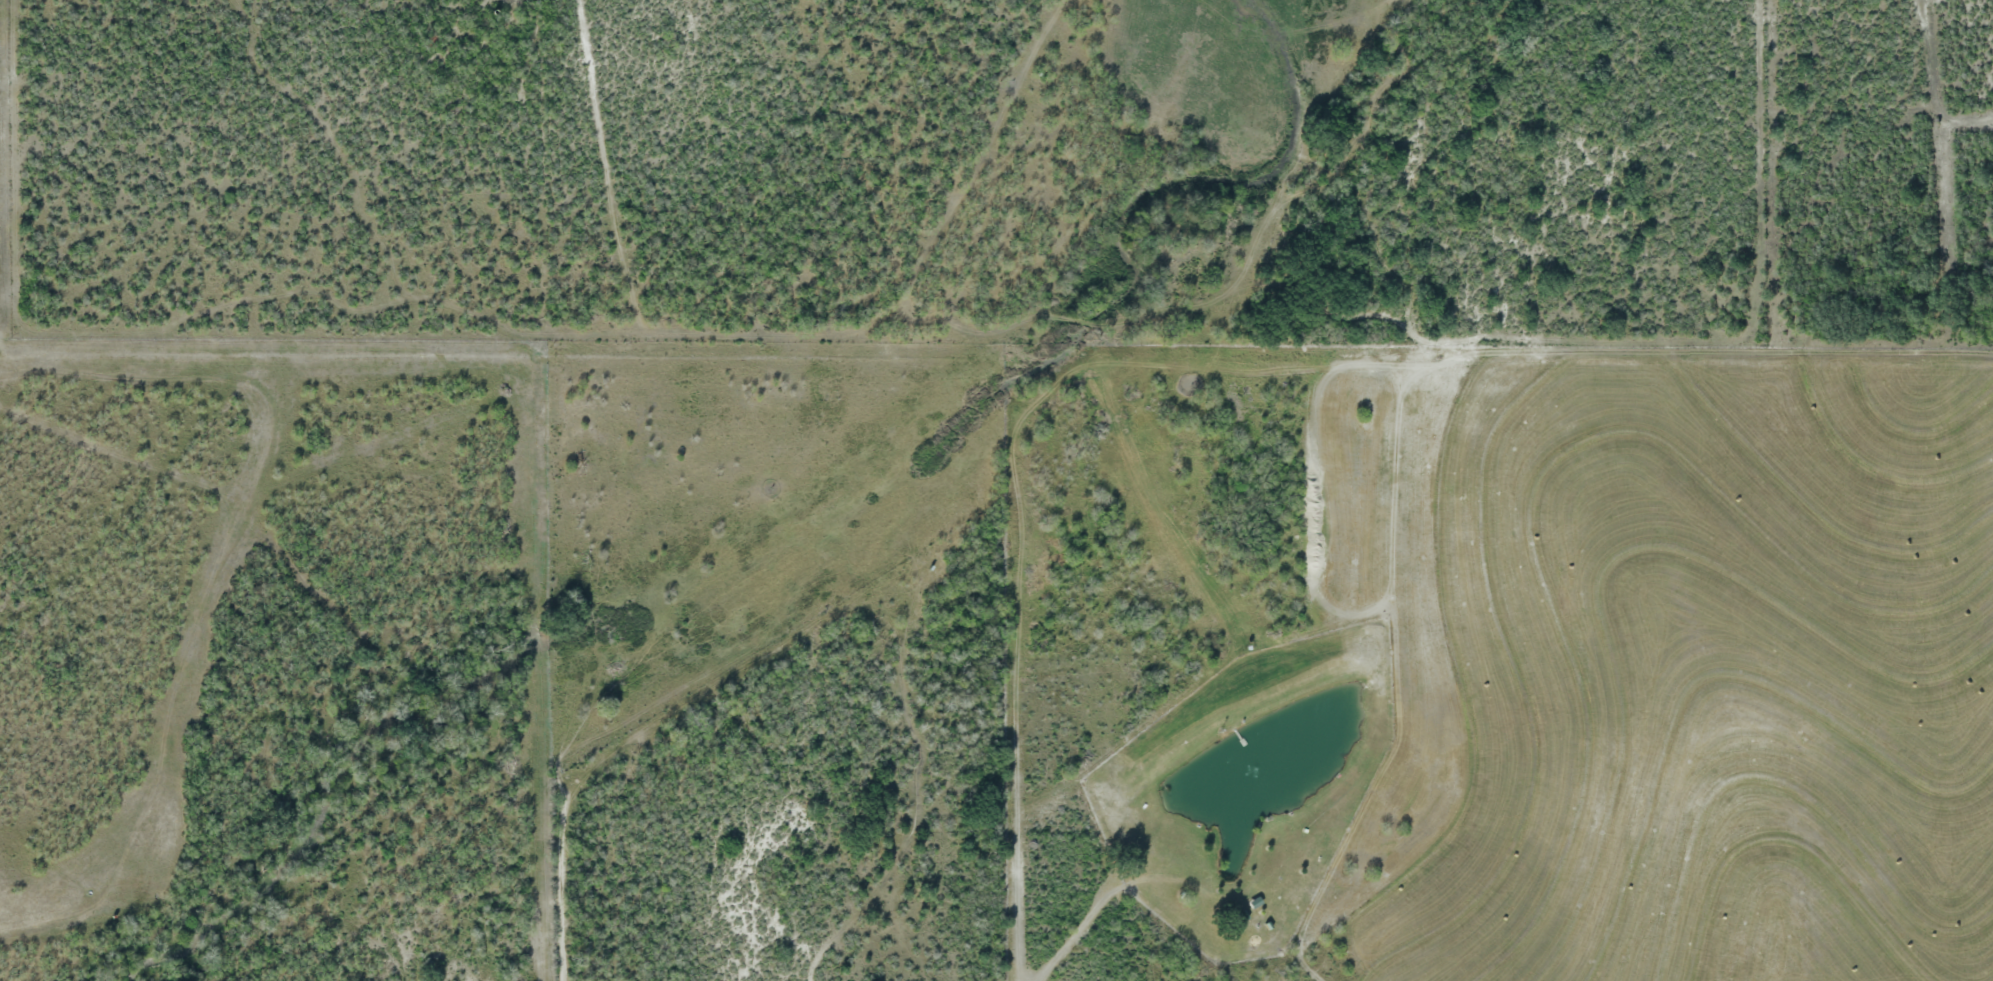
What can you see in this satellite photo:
river: (820, 576)
pier: (1239, 731)

